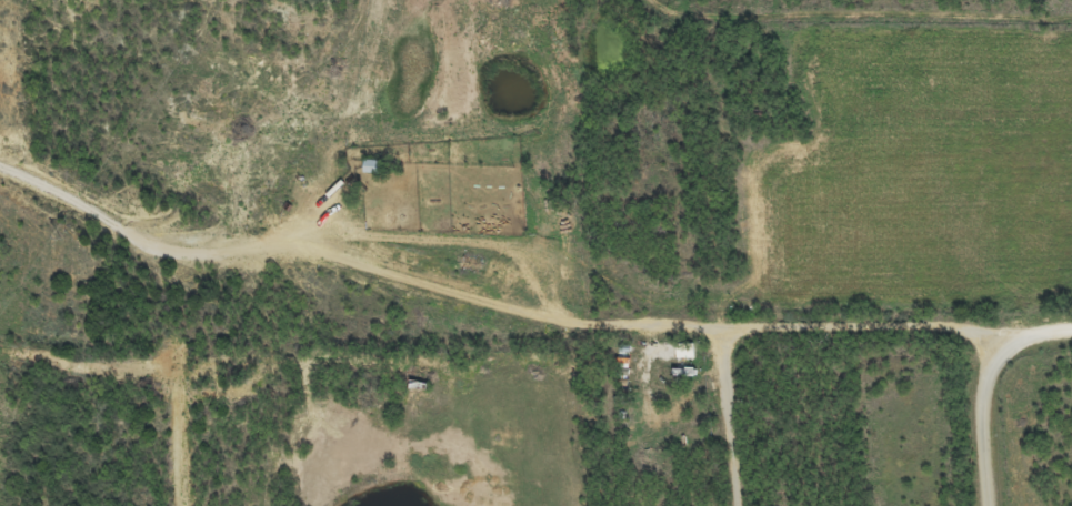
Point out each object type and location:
road: (492, 318)
road: (1035, 335)
building: (682, 360)
road: (729, 418)
road: (984, 424)

